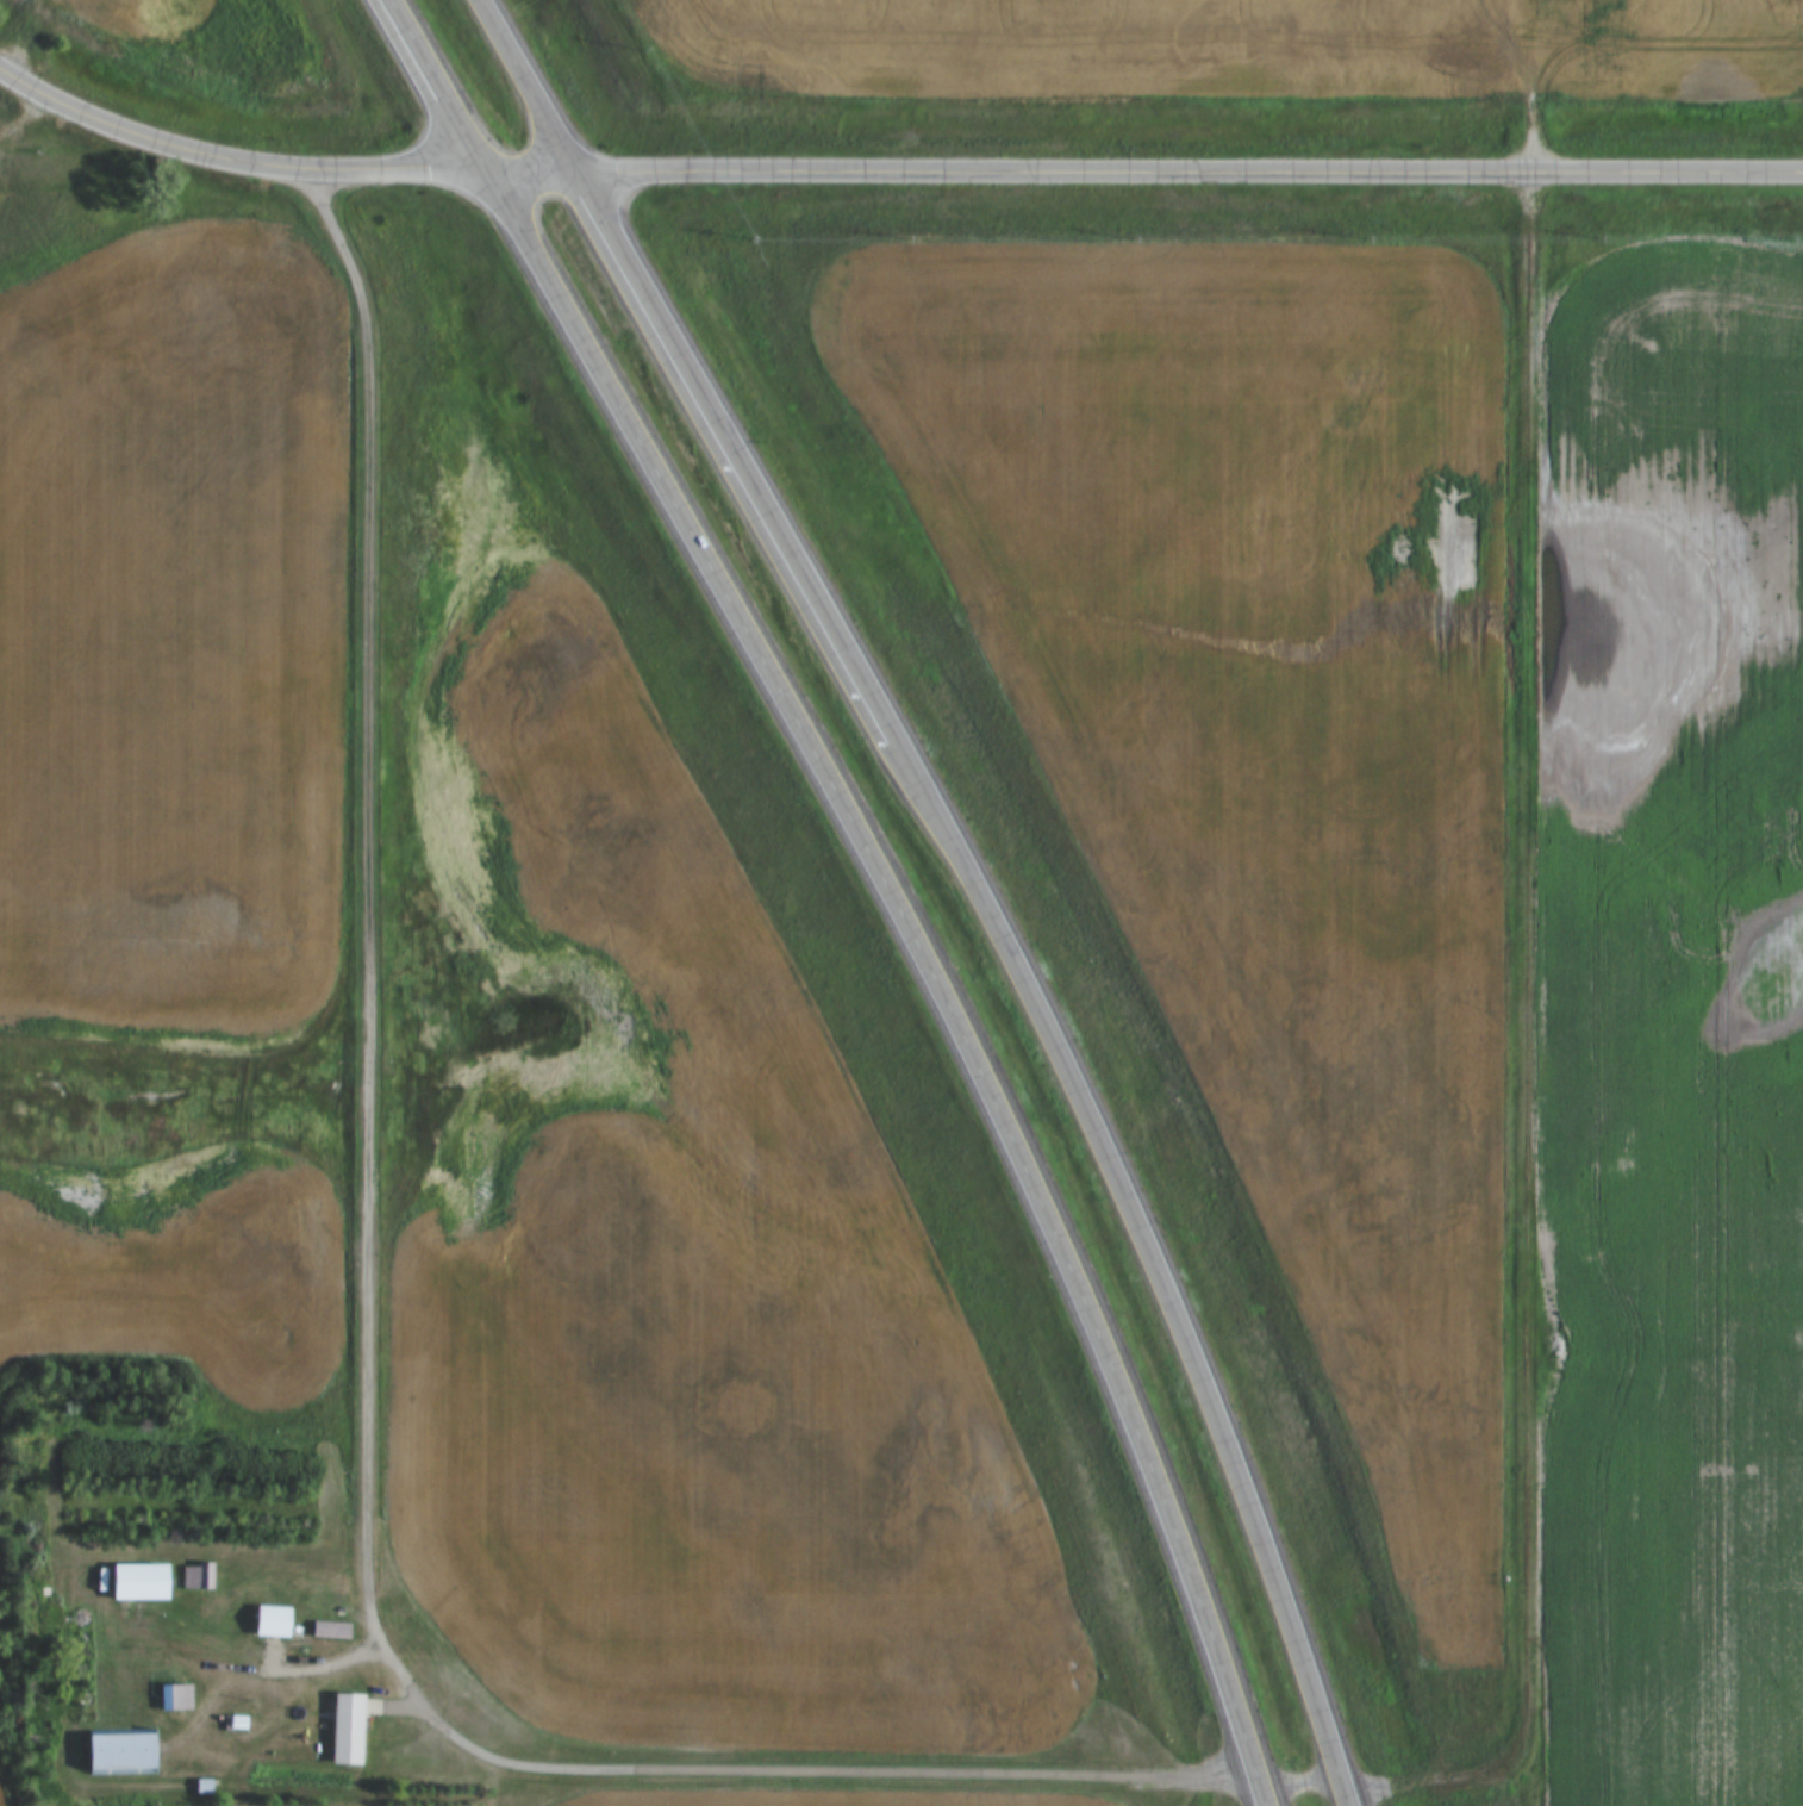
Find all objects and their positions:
road: (441, 87)
road: (526, 87)
road: (891, 173)
road: (731, 455)
road: (369, 938)
road: (1537, 965)
road: (930, 966)
road: (1150, 1256)
building: (196, 1576)
building: (141, 1582)
building: (322, 1599)
building: (274, 1621)
building: (331, 1630)
building: (176, 1698)
building: (349, 1730)
building: (123, 1751)
road: (505, 1760)
road: (943, 1771)
road: (1298, 1777)

